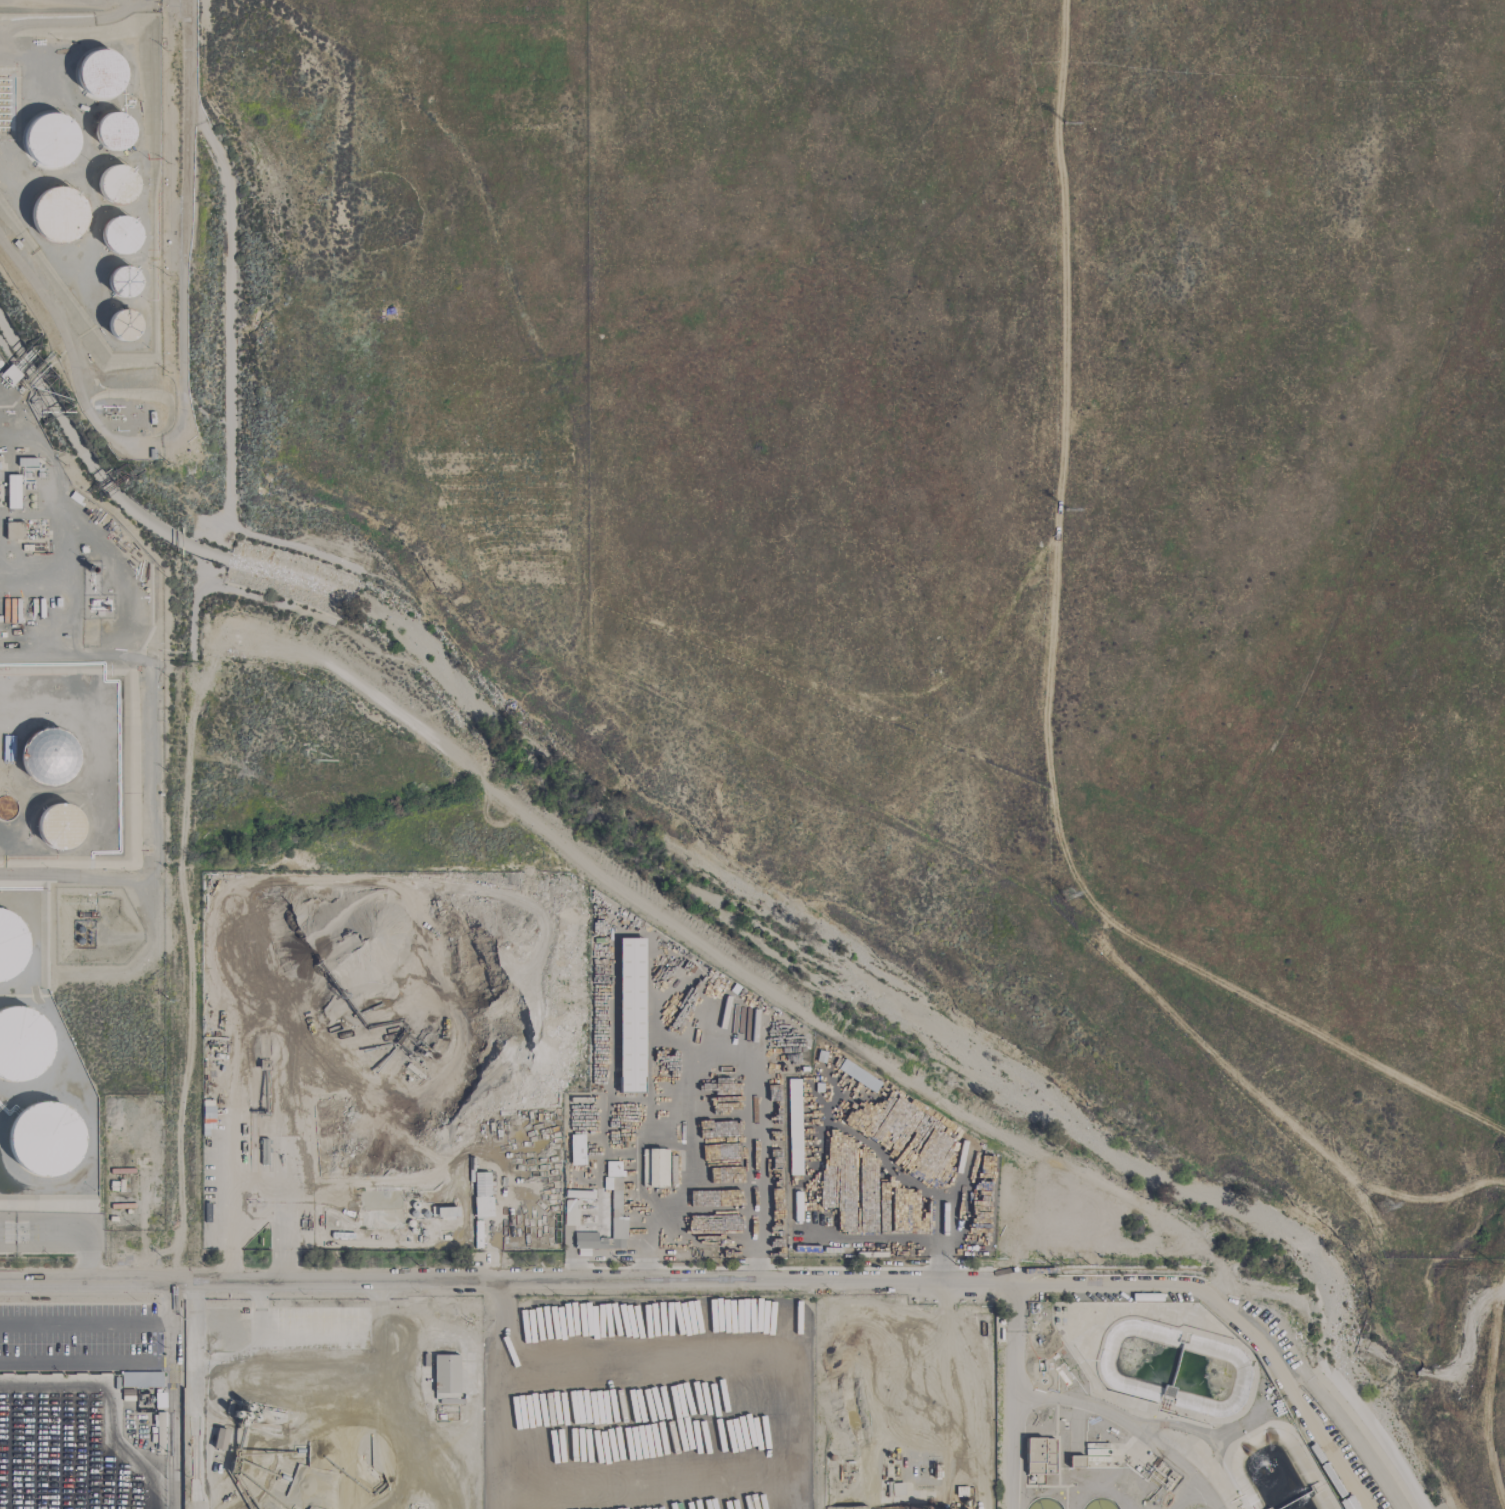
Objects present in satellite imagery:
building: (97, 73)
storage tank: (97, 73)
building: (112, 131)
storage tank: (112, 131)
building: (50, 142)
storage tank: (50, 142)
building: (115, 186)
storage tank: (115, 186)
building: (56, 216)
storage tank: (56, 216)
building: (119, 237)
storage tank: (119, 237)
building: (121, 282)
storage tank: (121, 282)
building: (122, 327)
storage tank: (122, 327)
building: (12, 492)
building: (14, 530)
building: (50, 755)
storage tank: (50, 755)
building: (61, 825)
storage tank: (61, 825)
building: (12, 947)
storage tank: (12, 947)
building: (630, 1015)
building: (22, 1050)
storage tank: (22, 1050)
building: (207, 1113)
building: (49, 1136)
storage tank: (49, 1136)
building: (576, 1150)
road: (255, 1180)
building: (481, 1194)
building: (615, 1203)
building: (573, 1205)
building: (444, 1212)
building: (920, 1216)
road: (493, 1229)
road: (63, 1233)
road: (703, 1251)
road: (600, 1258)
road: (505, 1283)
road: (1232, 1318)
road: (107, 1324)
road: (1011, 1340)
road: (104, 1365)
building: (445, 1374)
building: (141, 1380)
wastewater plant: (1142, 1412)
road: (1127, 1425)
road: (1185, 1428)
building: (219, 1439)
road: (1010, 1452)
building: (1040, 1456)
building: (1076, 1462)
building: (894, 1489)
road: (1181, 1493)

